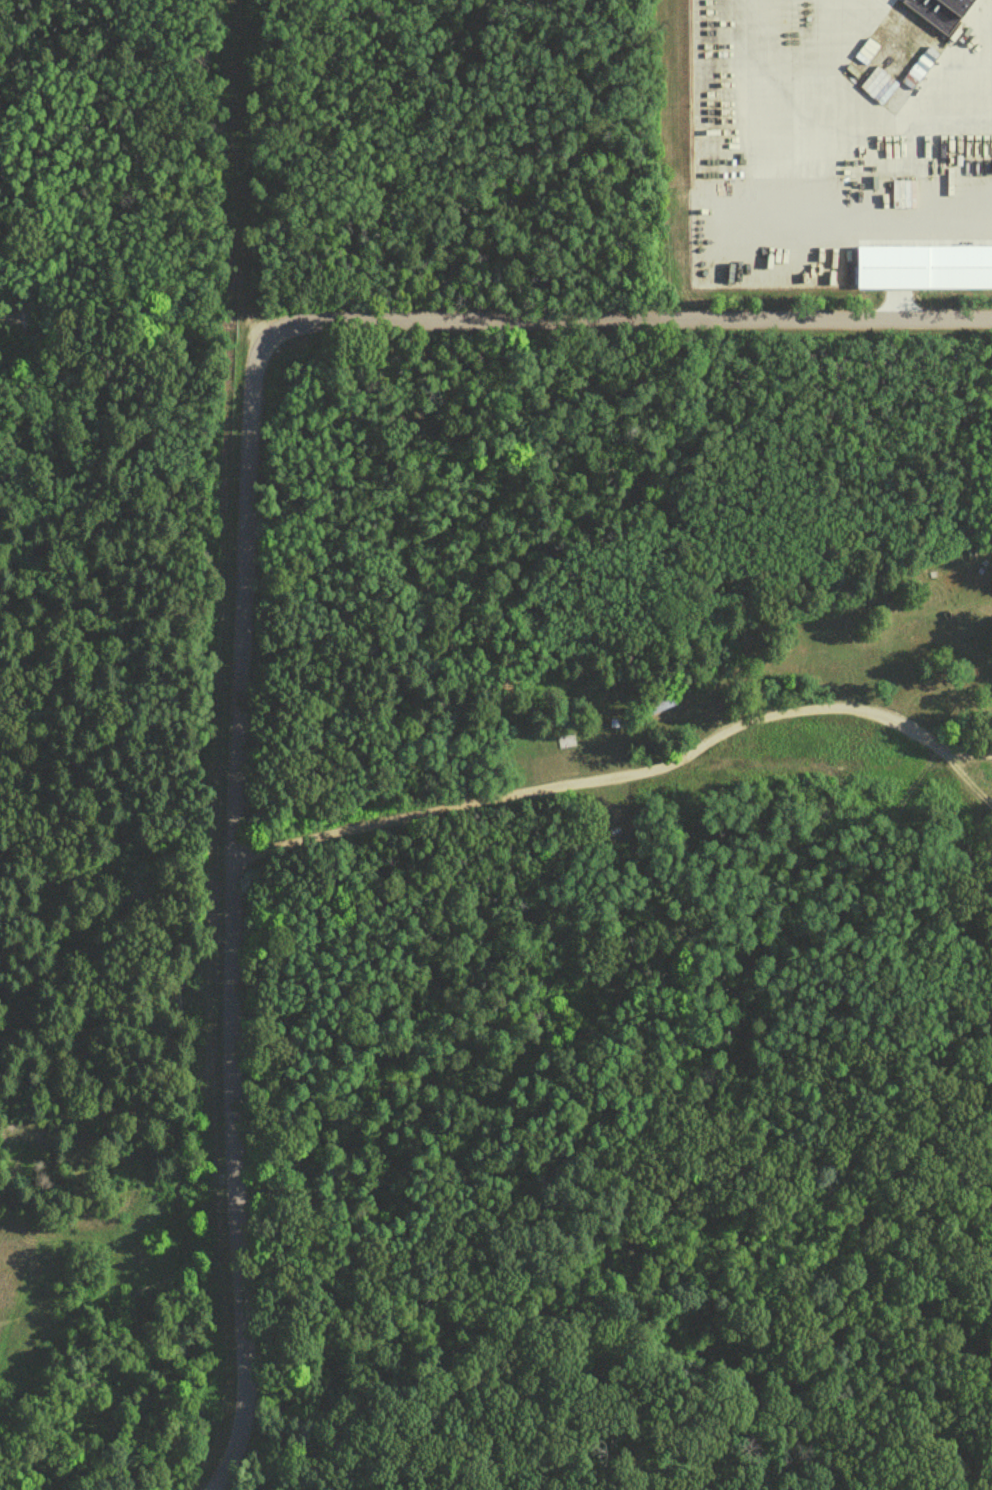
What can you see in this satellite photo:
building: (937, 14)
road: (867, 120)
building: (923, 265)
road: (133, 319)
road: (629, 320)
road: (73, 760)
road: (606, 770)
road: (965, 780)
road: (919, 885)
road: (231, 907)

